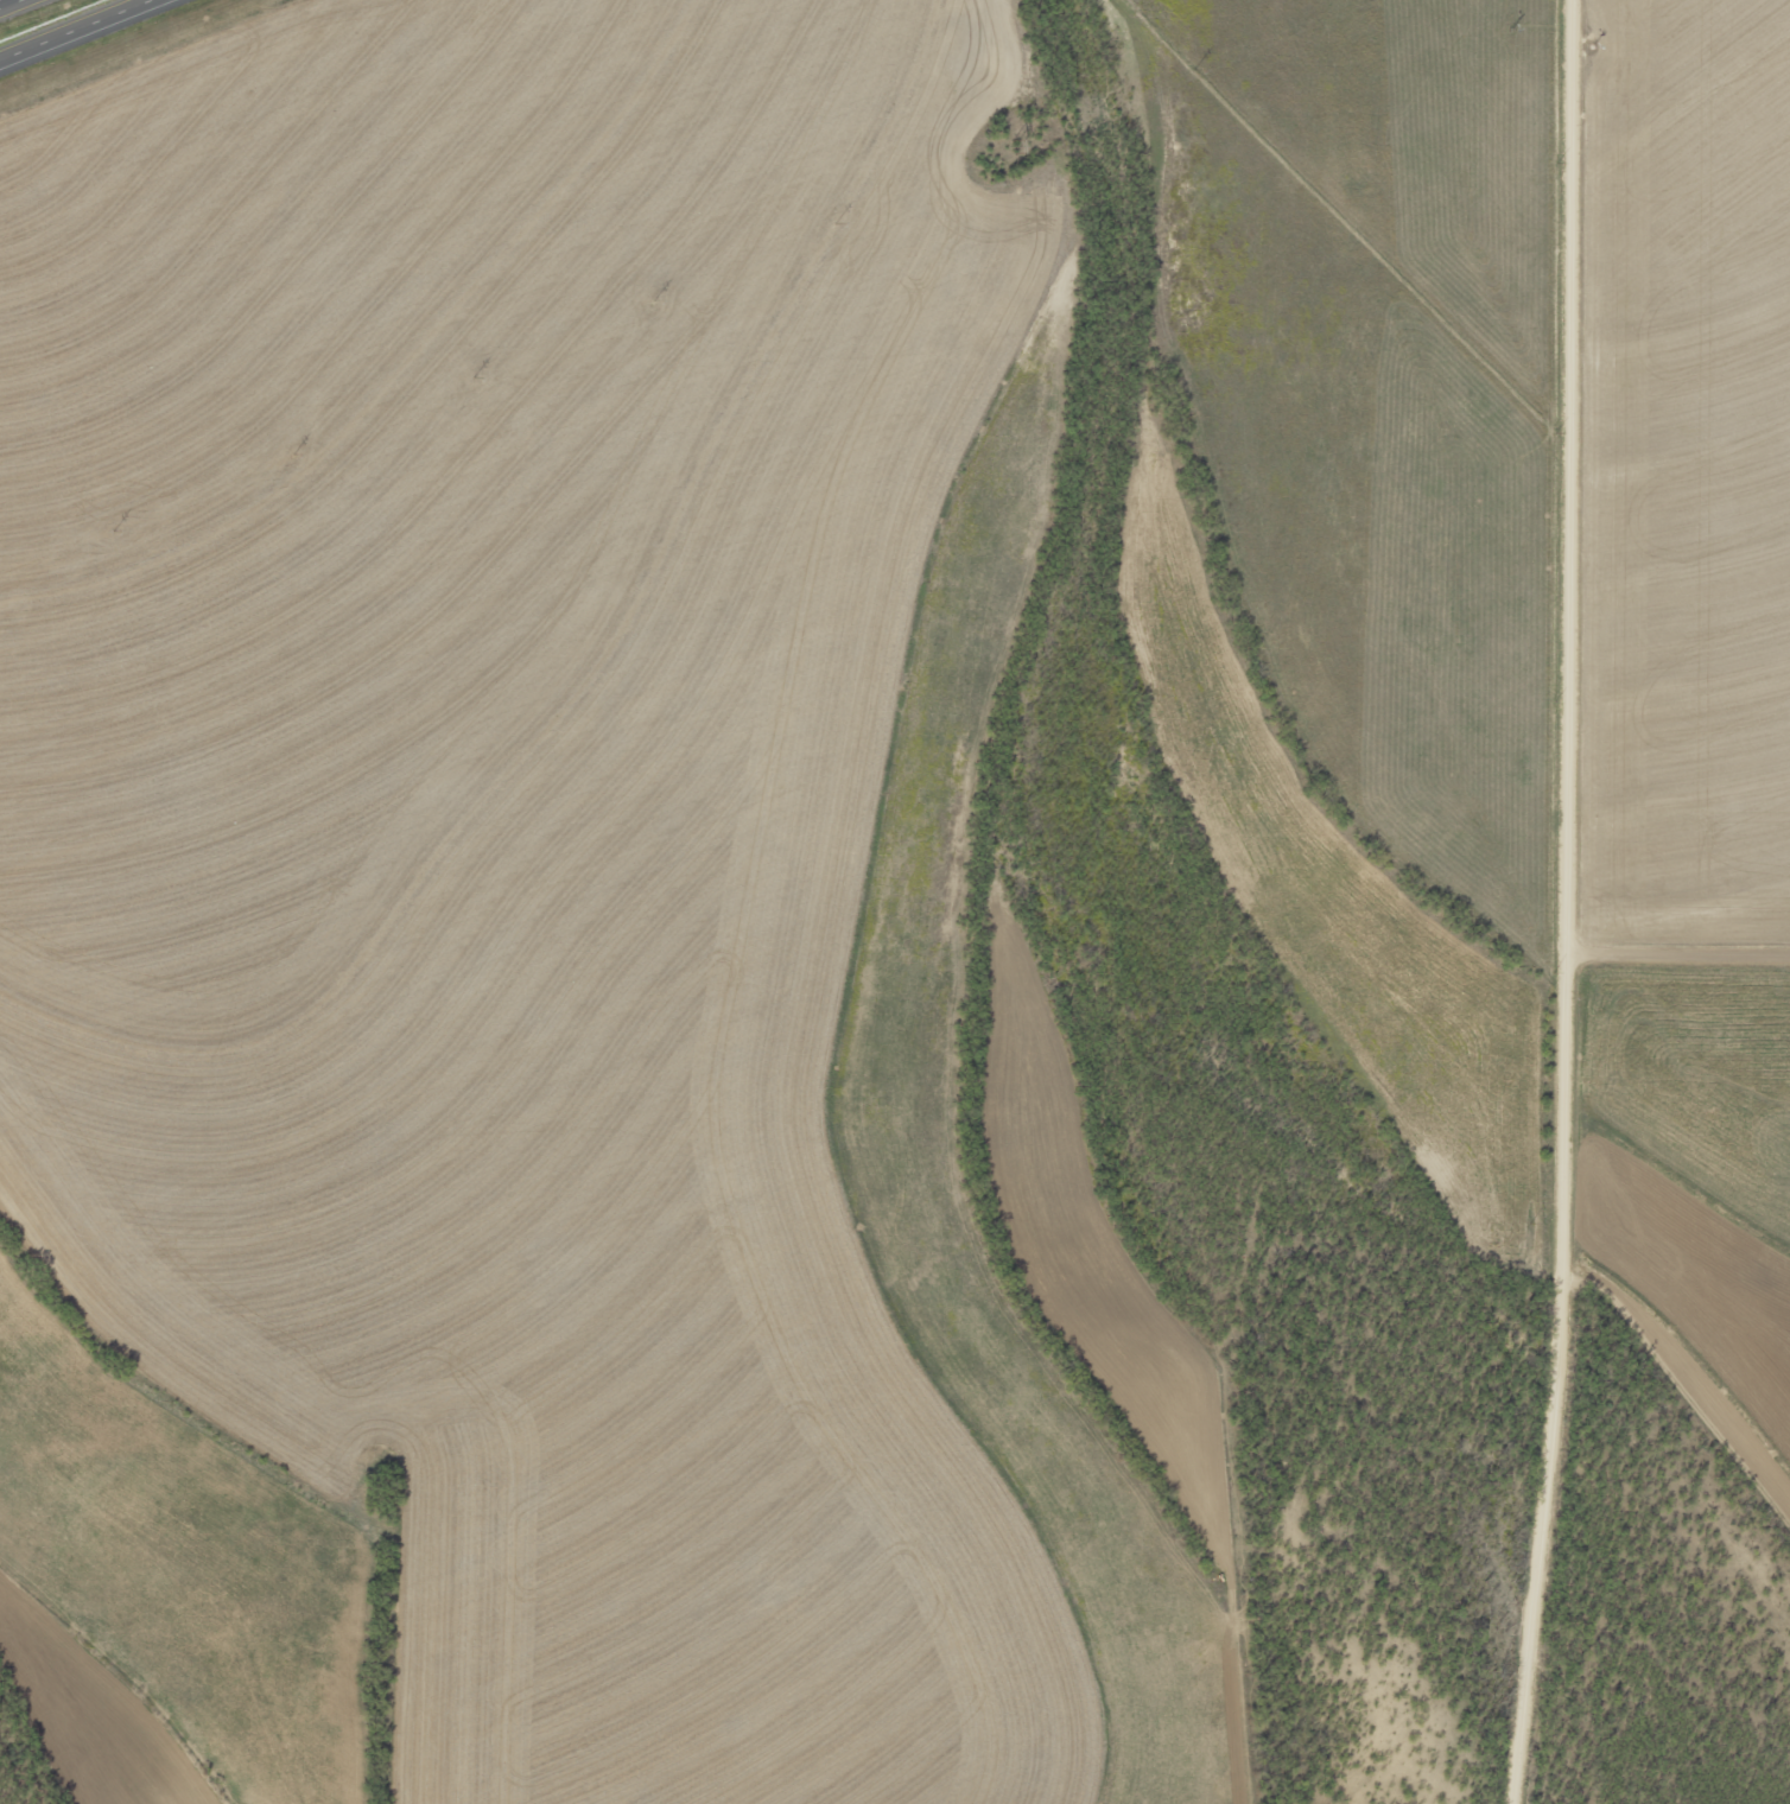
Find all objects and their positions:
road: (23, 8)
road: (88, 34)
road: (208, 169)
road: (417, 863)
road: (1593, 902)
road: (1691, 935)
road: (208, 1457)

